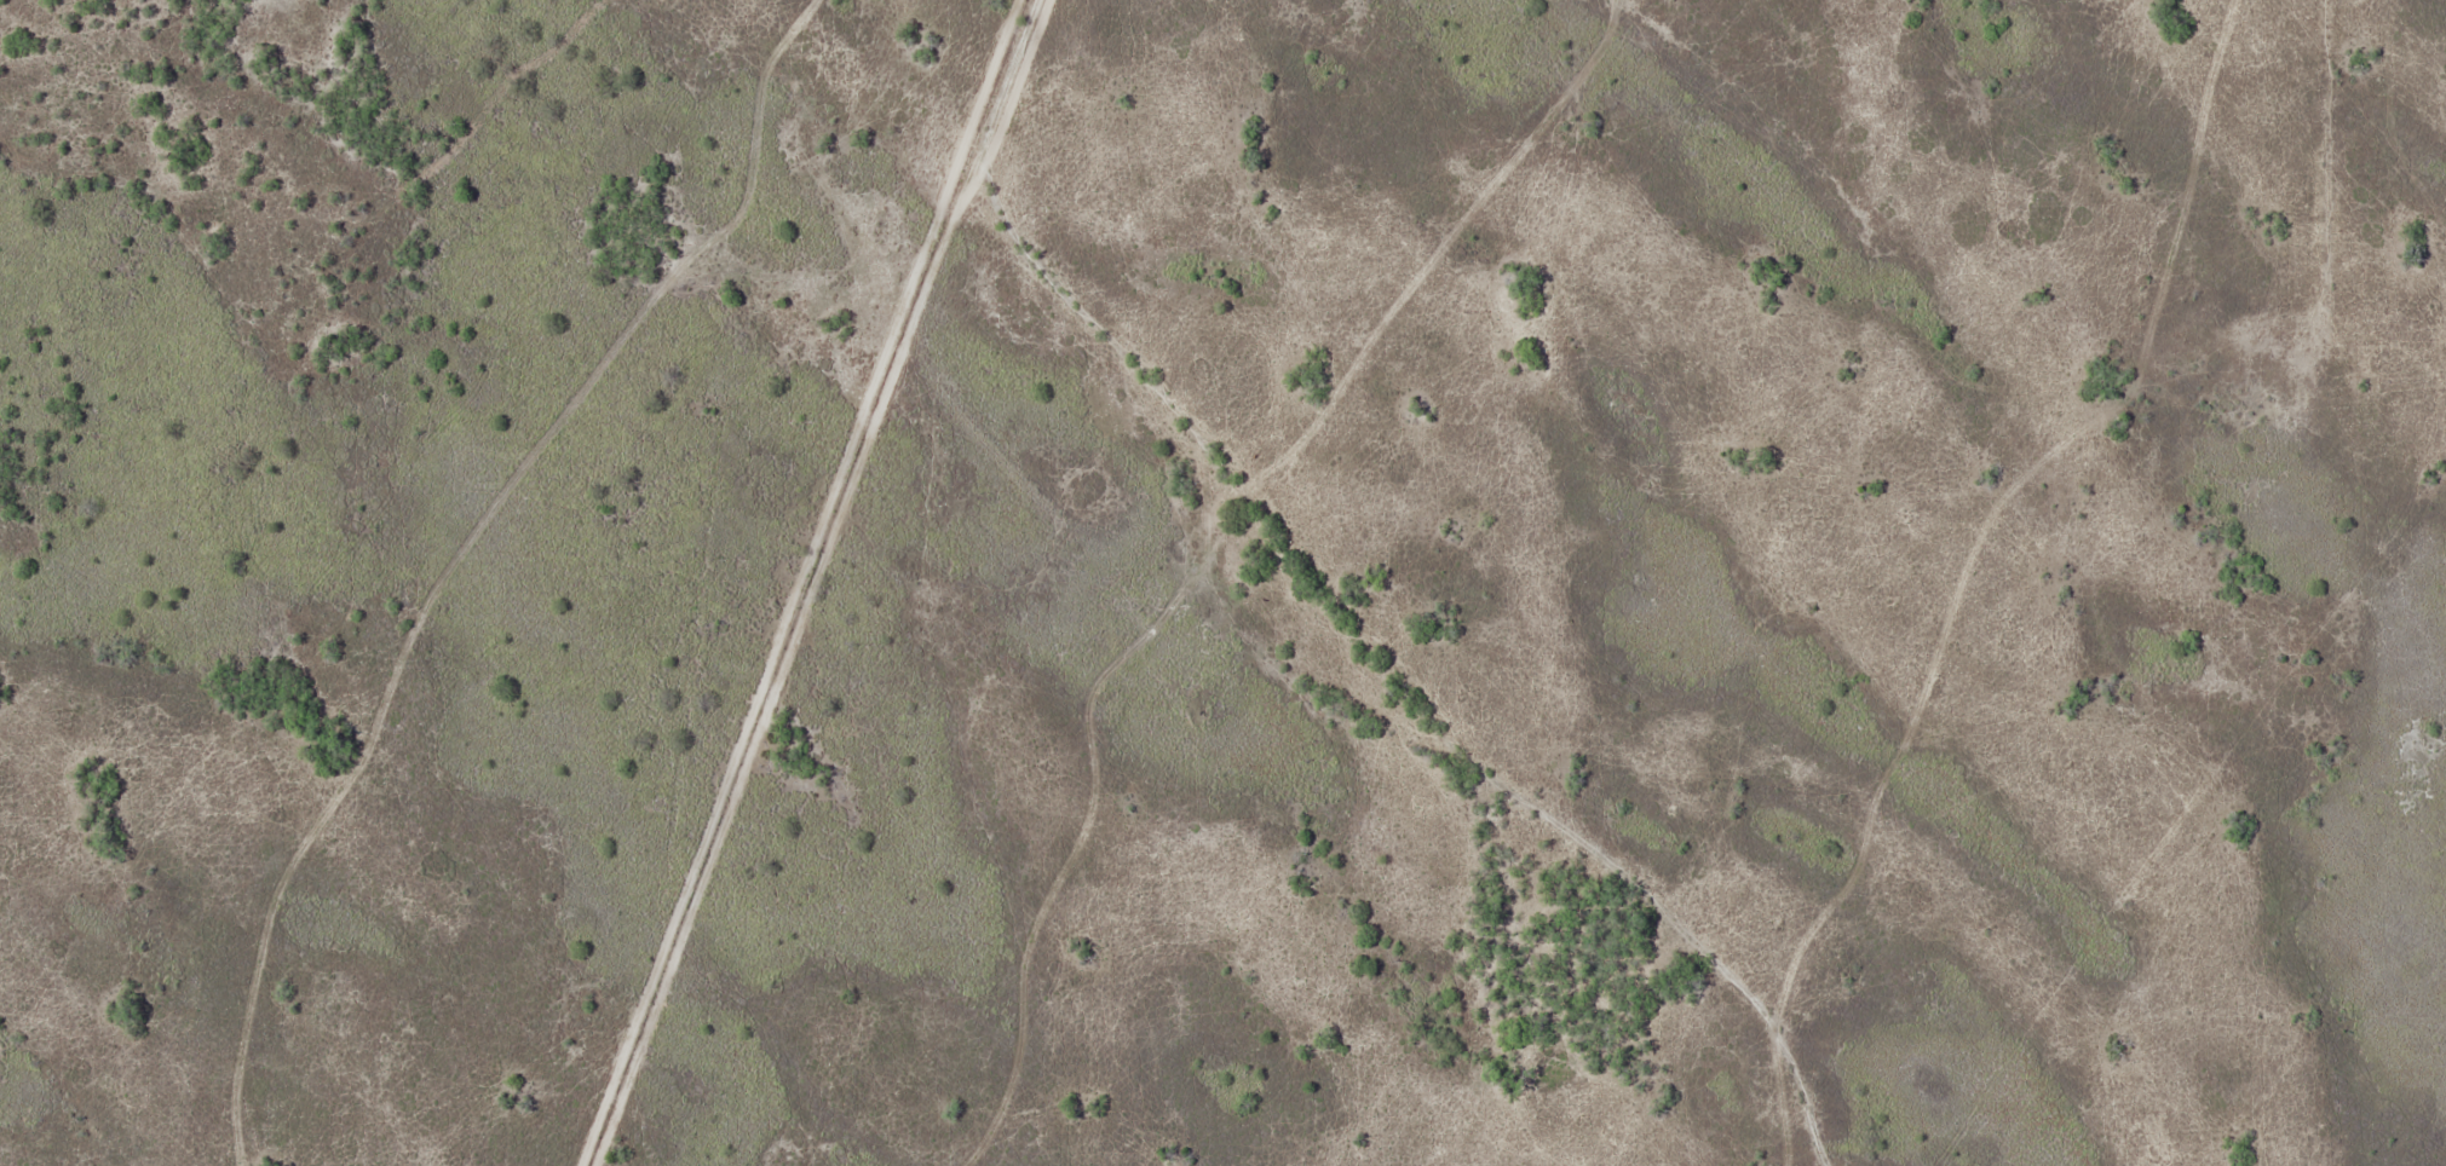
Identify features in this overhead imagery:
road: (2324, 203)
road: (1301, 654)

